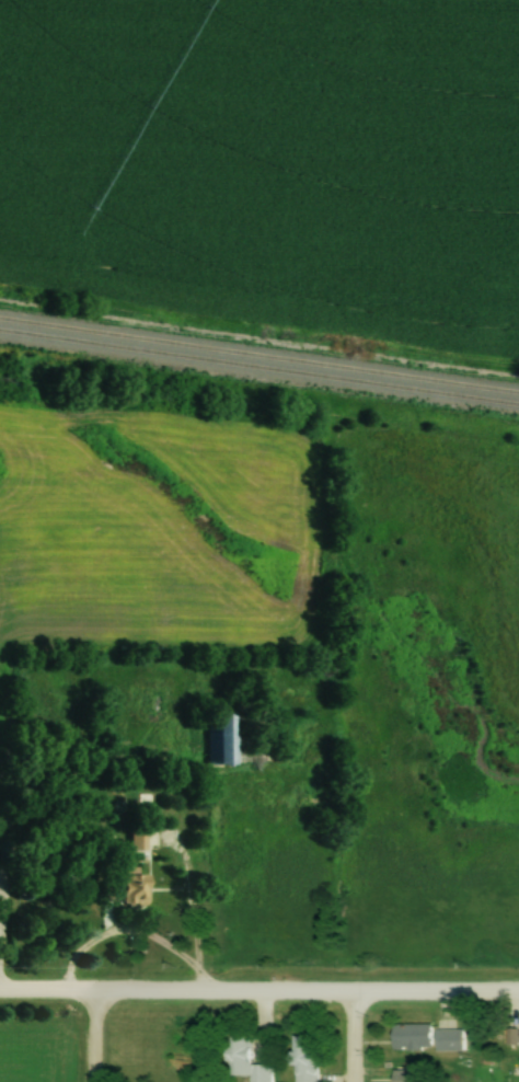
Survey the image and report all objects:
railway: (259, 354)
railway: (258, 367)
crop: (159, 525)
building: (226, 740)
building: (136, 838)
building: (131, 887)
road: (130, 929)
road: (259, 994)
building: (518, 1036)
road: (88, 1038)
road: (346, 1038)
building: (428, 1038)
building: (305, 1058)
building: (247, 1062)
building: (406, 1073)

